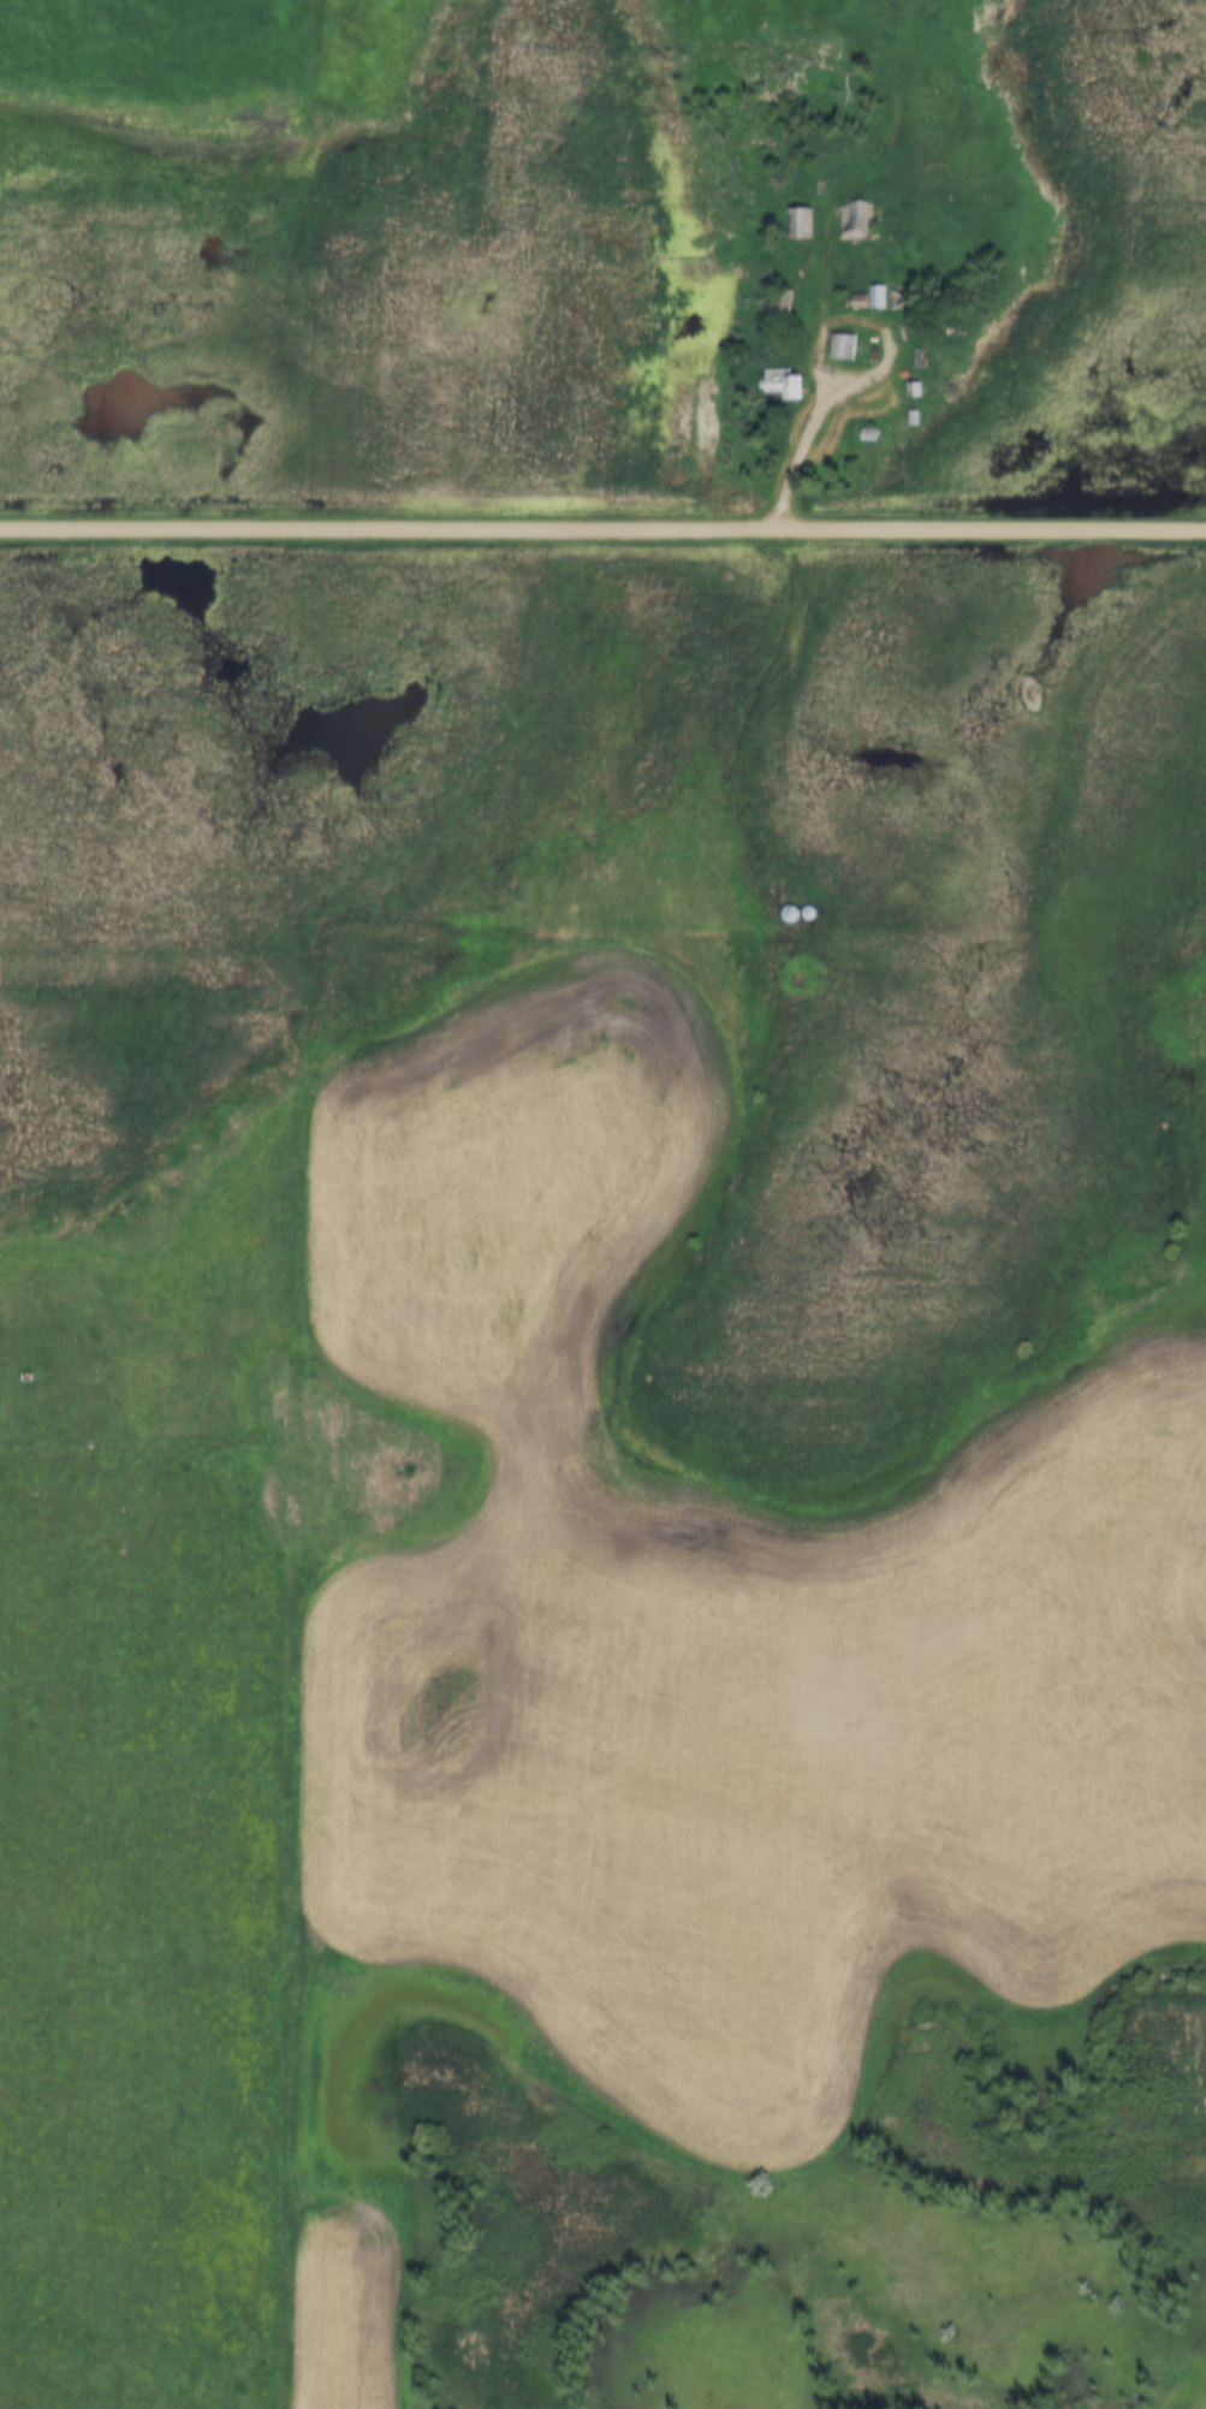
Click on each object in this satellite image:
building: (802, 225)
building: (855, 225)
building: (879, 299)
building: (903, 301)
building: (843, 348)
building: (921, 360)
building: (785, 386)
building: (914, 392)
road: (812, 419)
building: (869, 437)
road: (602, 529)

